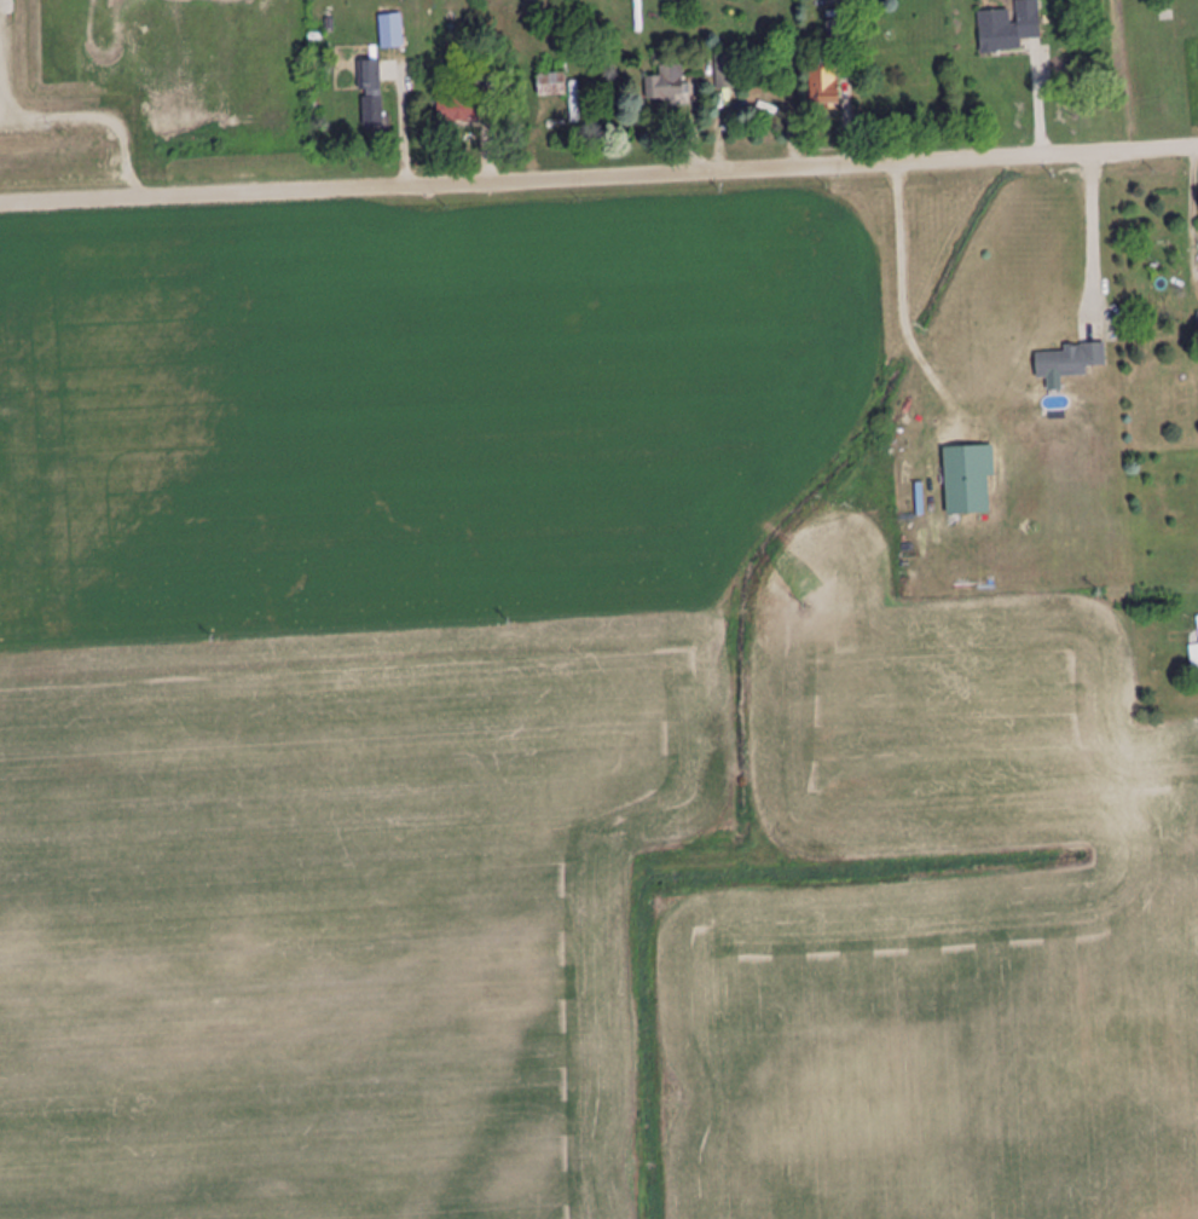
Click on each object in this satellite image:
building: (1009, 28)
building: (392, 31)
building: (834, 33)
building: (728, 71)
building: (823, 83)
building: (666, 86)
building: (371, 94)
building: (462, 110)
road: (598, 178)
building: (1069, 362)
building: (968, 480)

